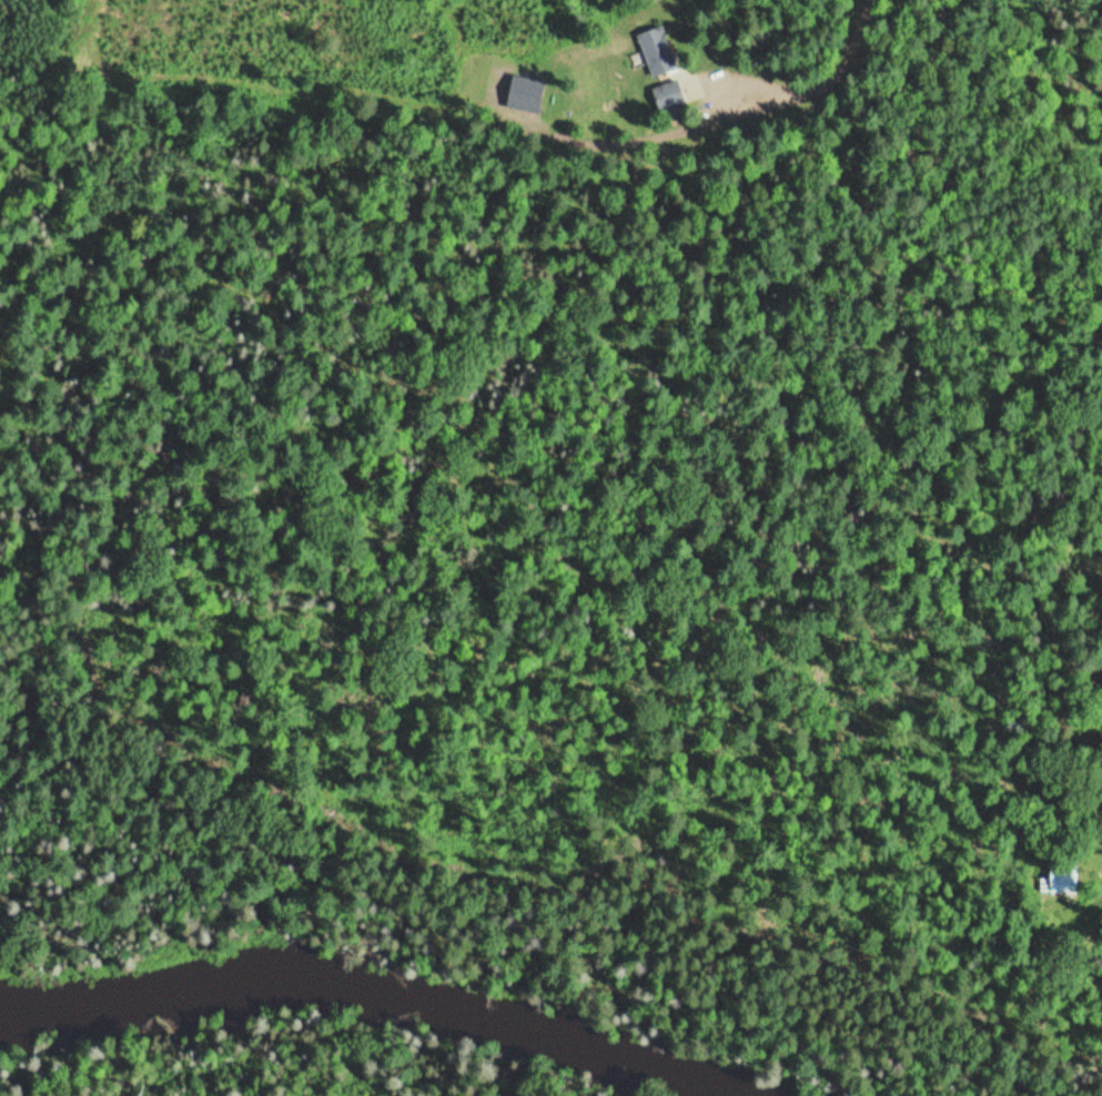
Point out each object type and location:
building: (659, 51)
building: (671, 95)
building: (1062, 881)
river: (352, 1004)

